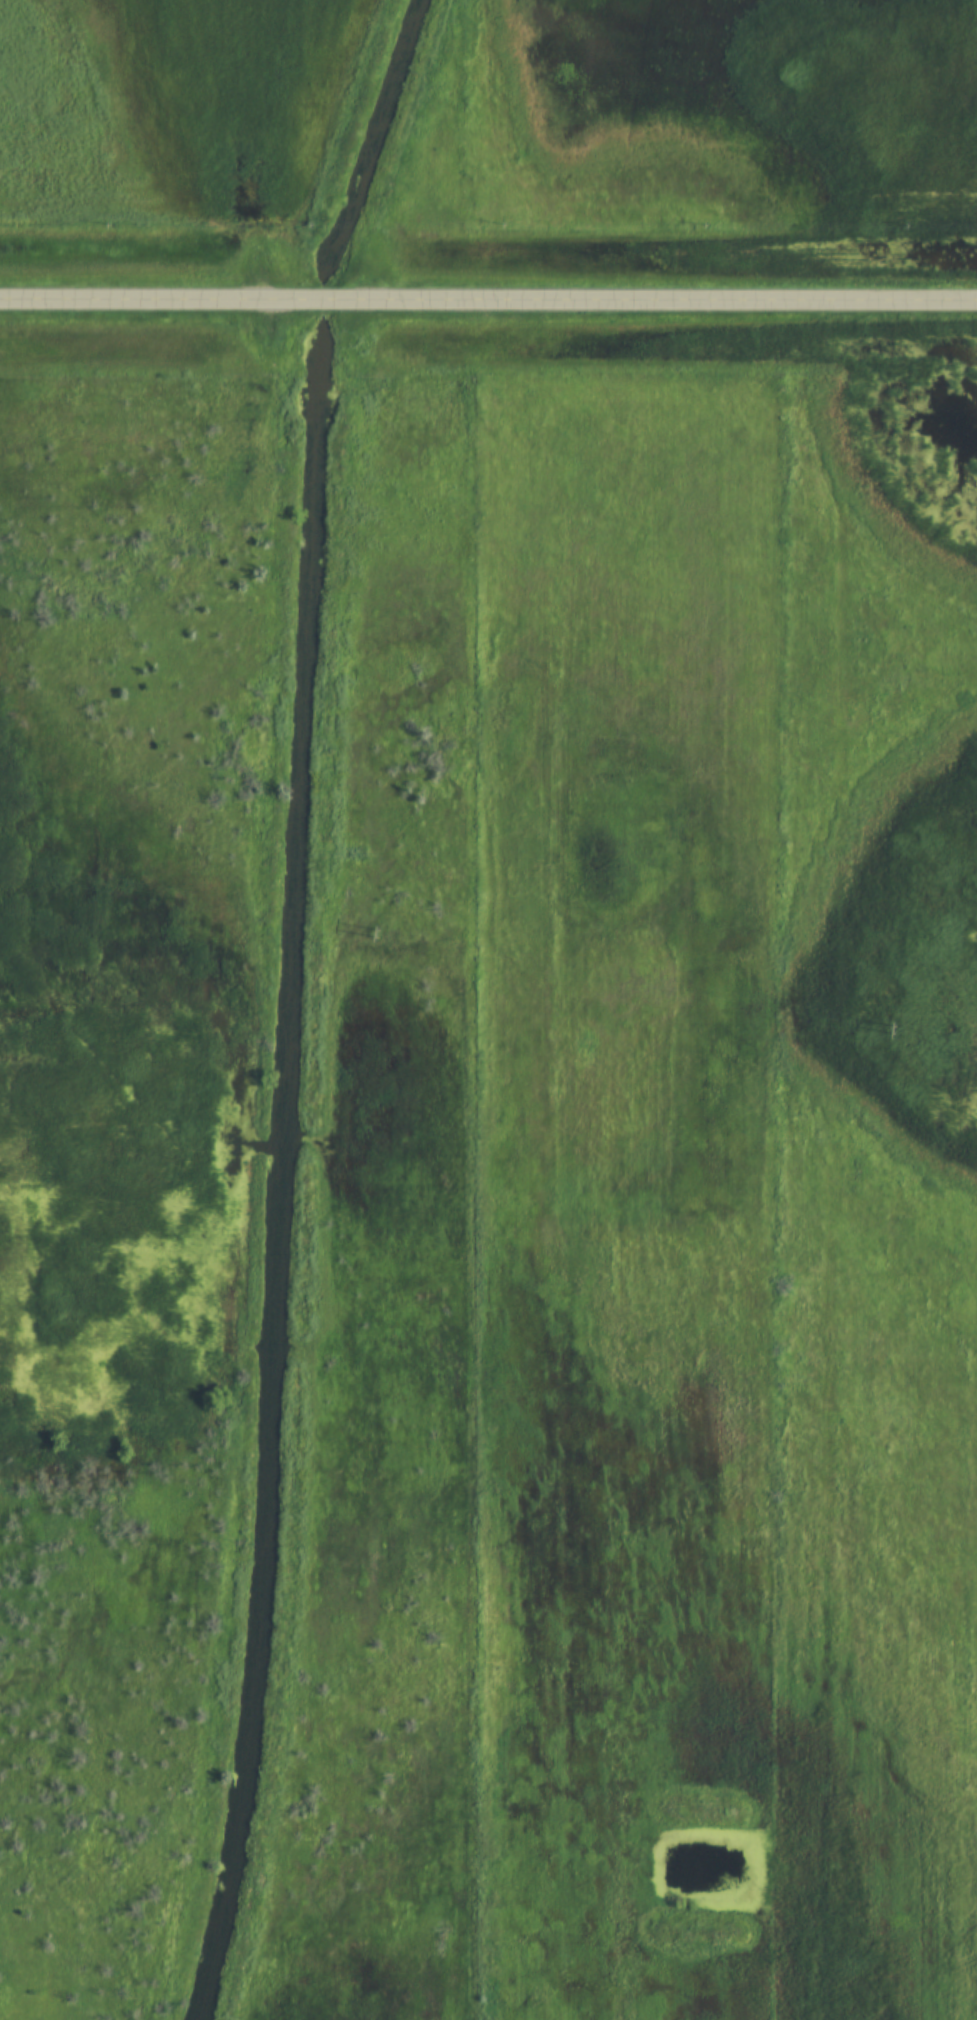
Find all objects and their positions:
crop: (83, 124)
road: (488, 299)
power tower: (378, 934)
power tower: (896, 1029)

